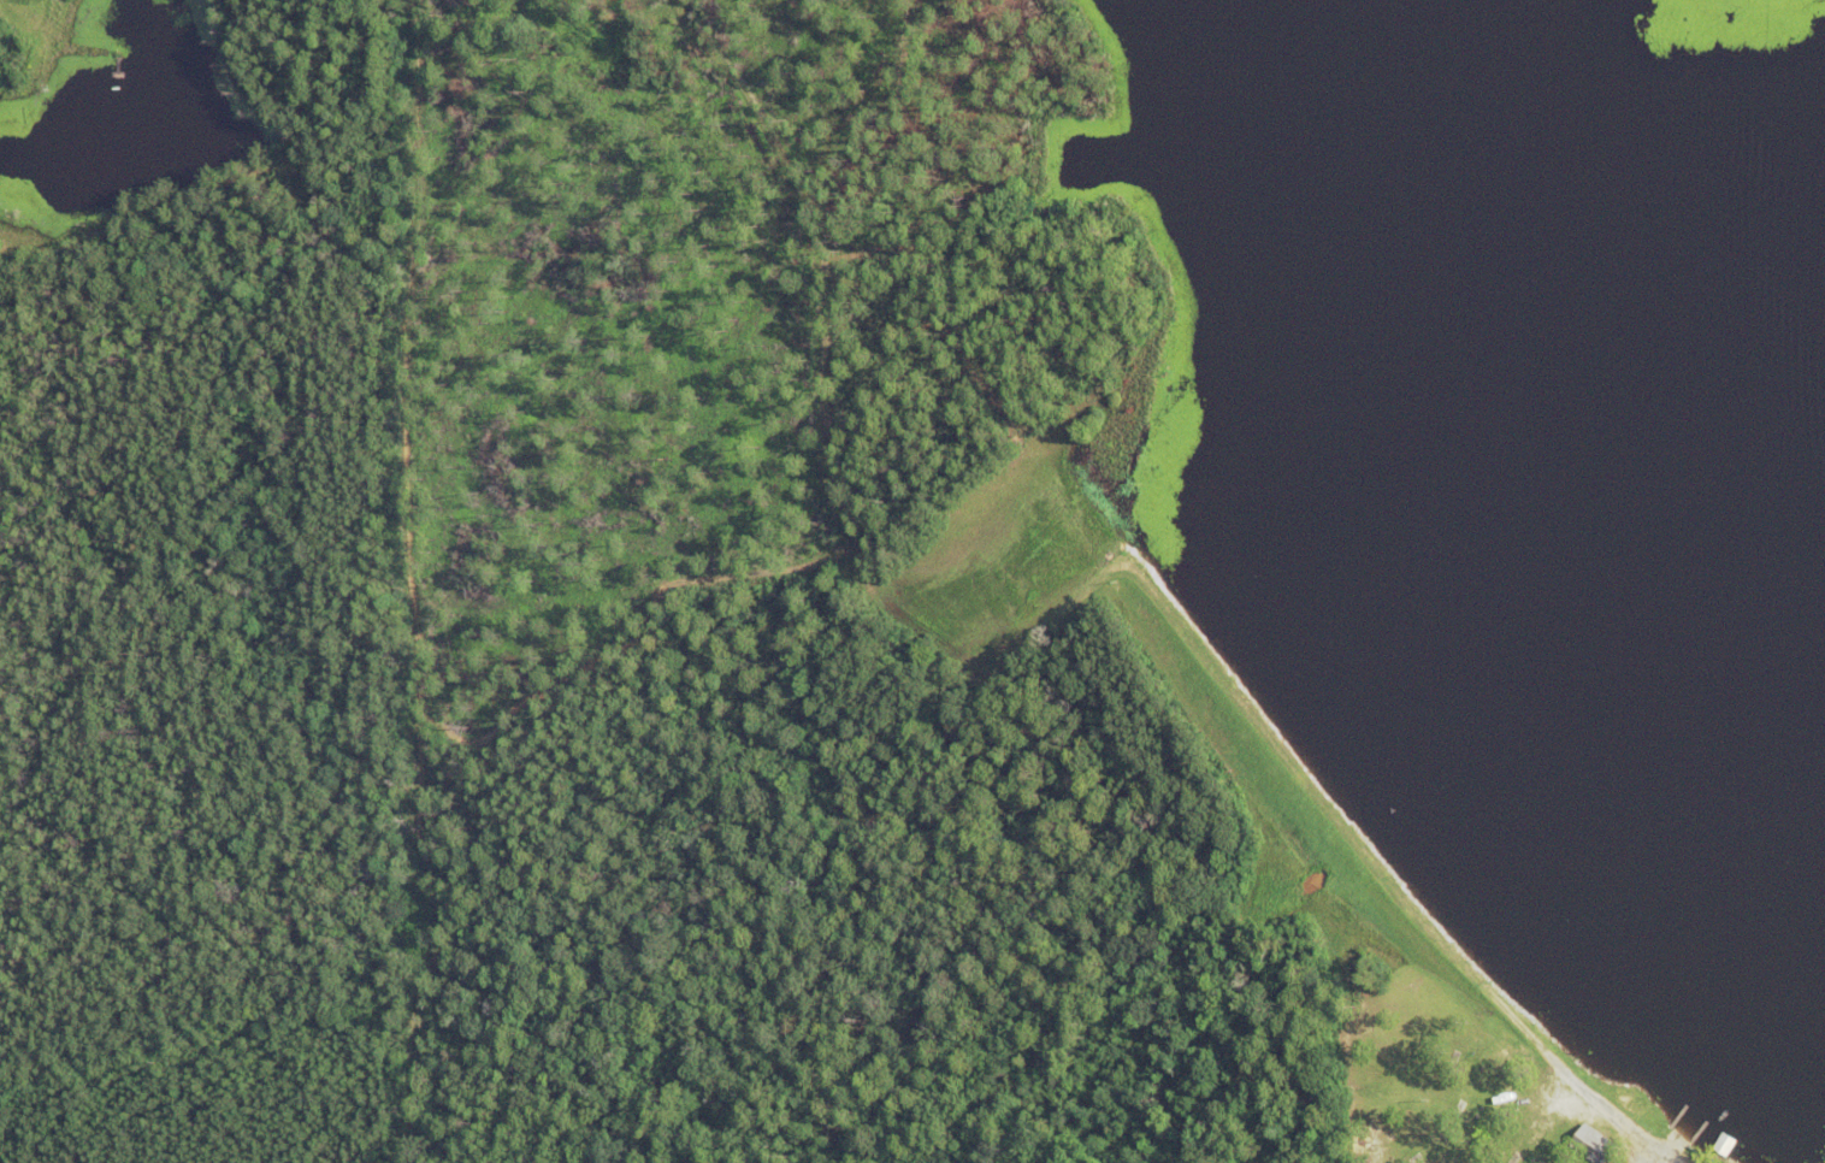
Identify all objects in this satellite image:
building: (1724, 1144)
building: (1595, 1145)
road: (1671, 1162)

